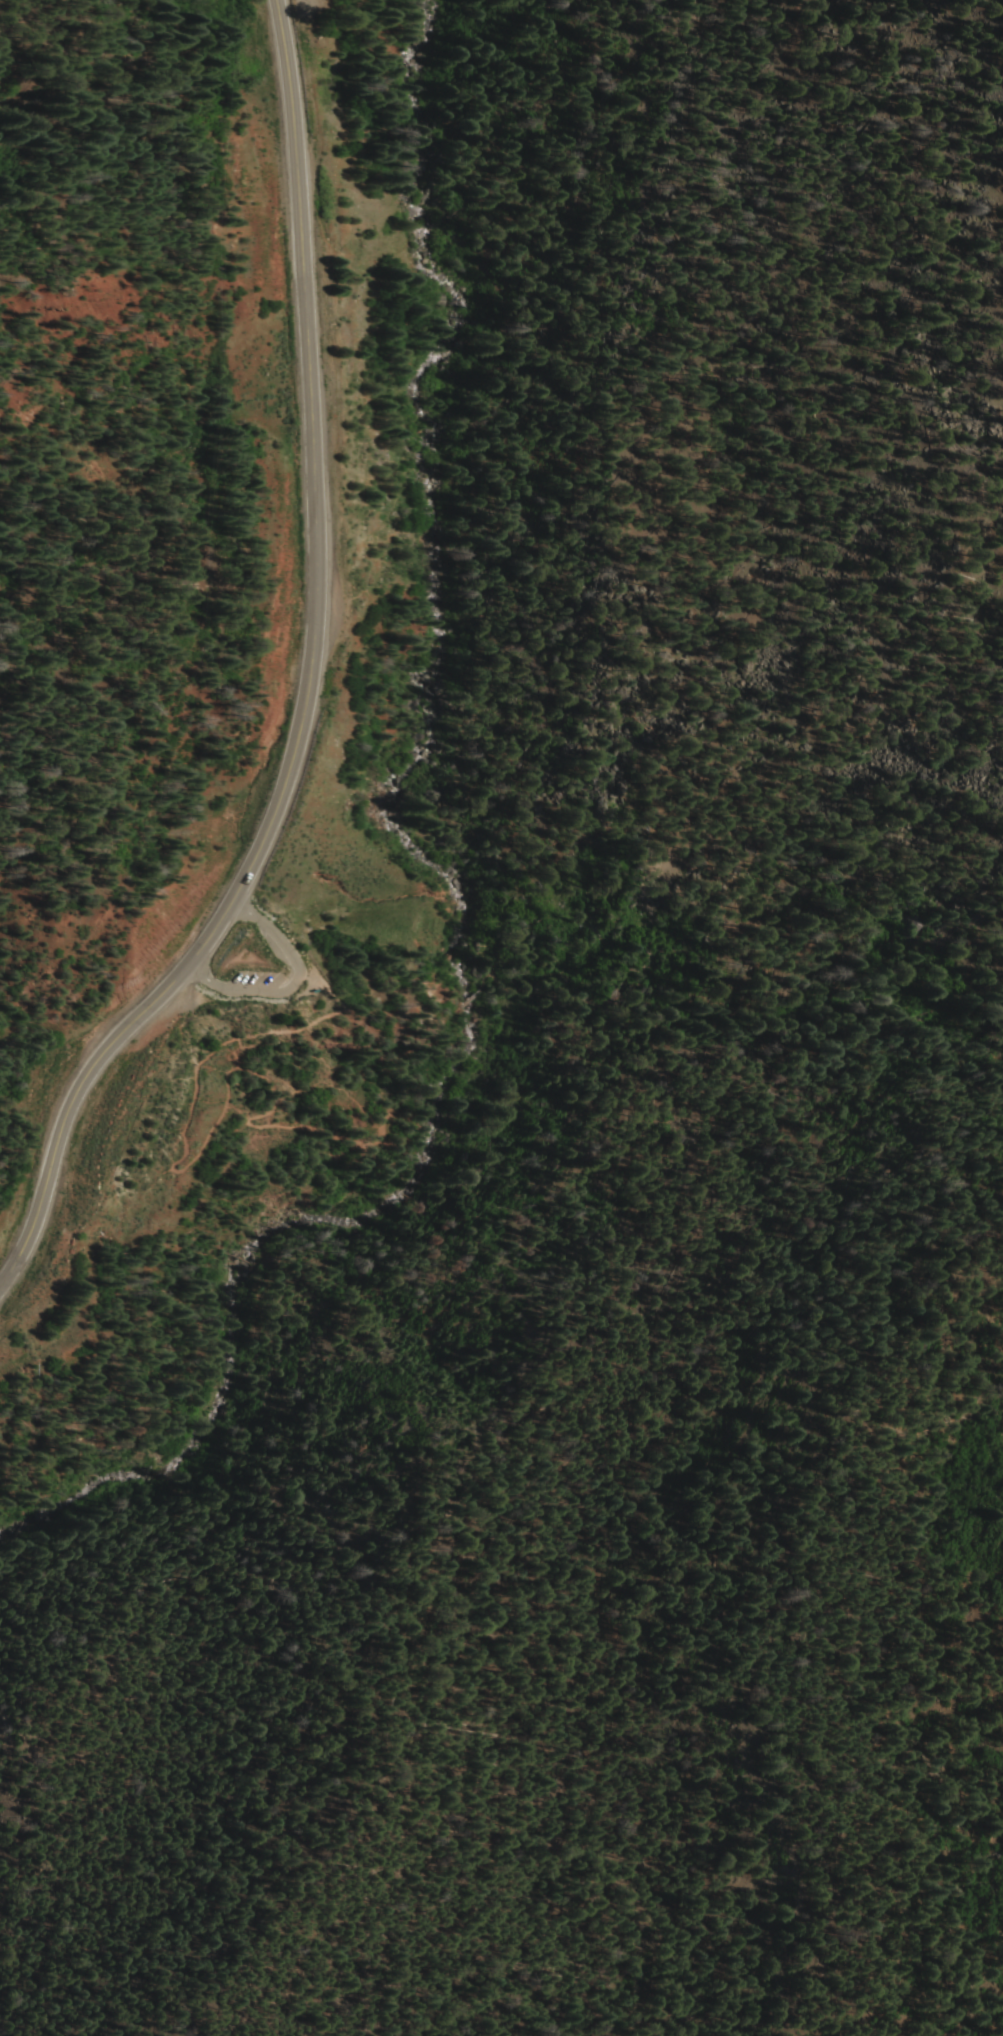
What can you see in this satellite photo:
road: (309, 687)
parking lot: (249, 958)
road: (286, 978)
road: (469, 997)
road: (590, 1004)
road: (223, 1097)

